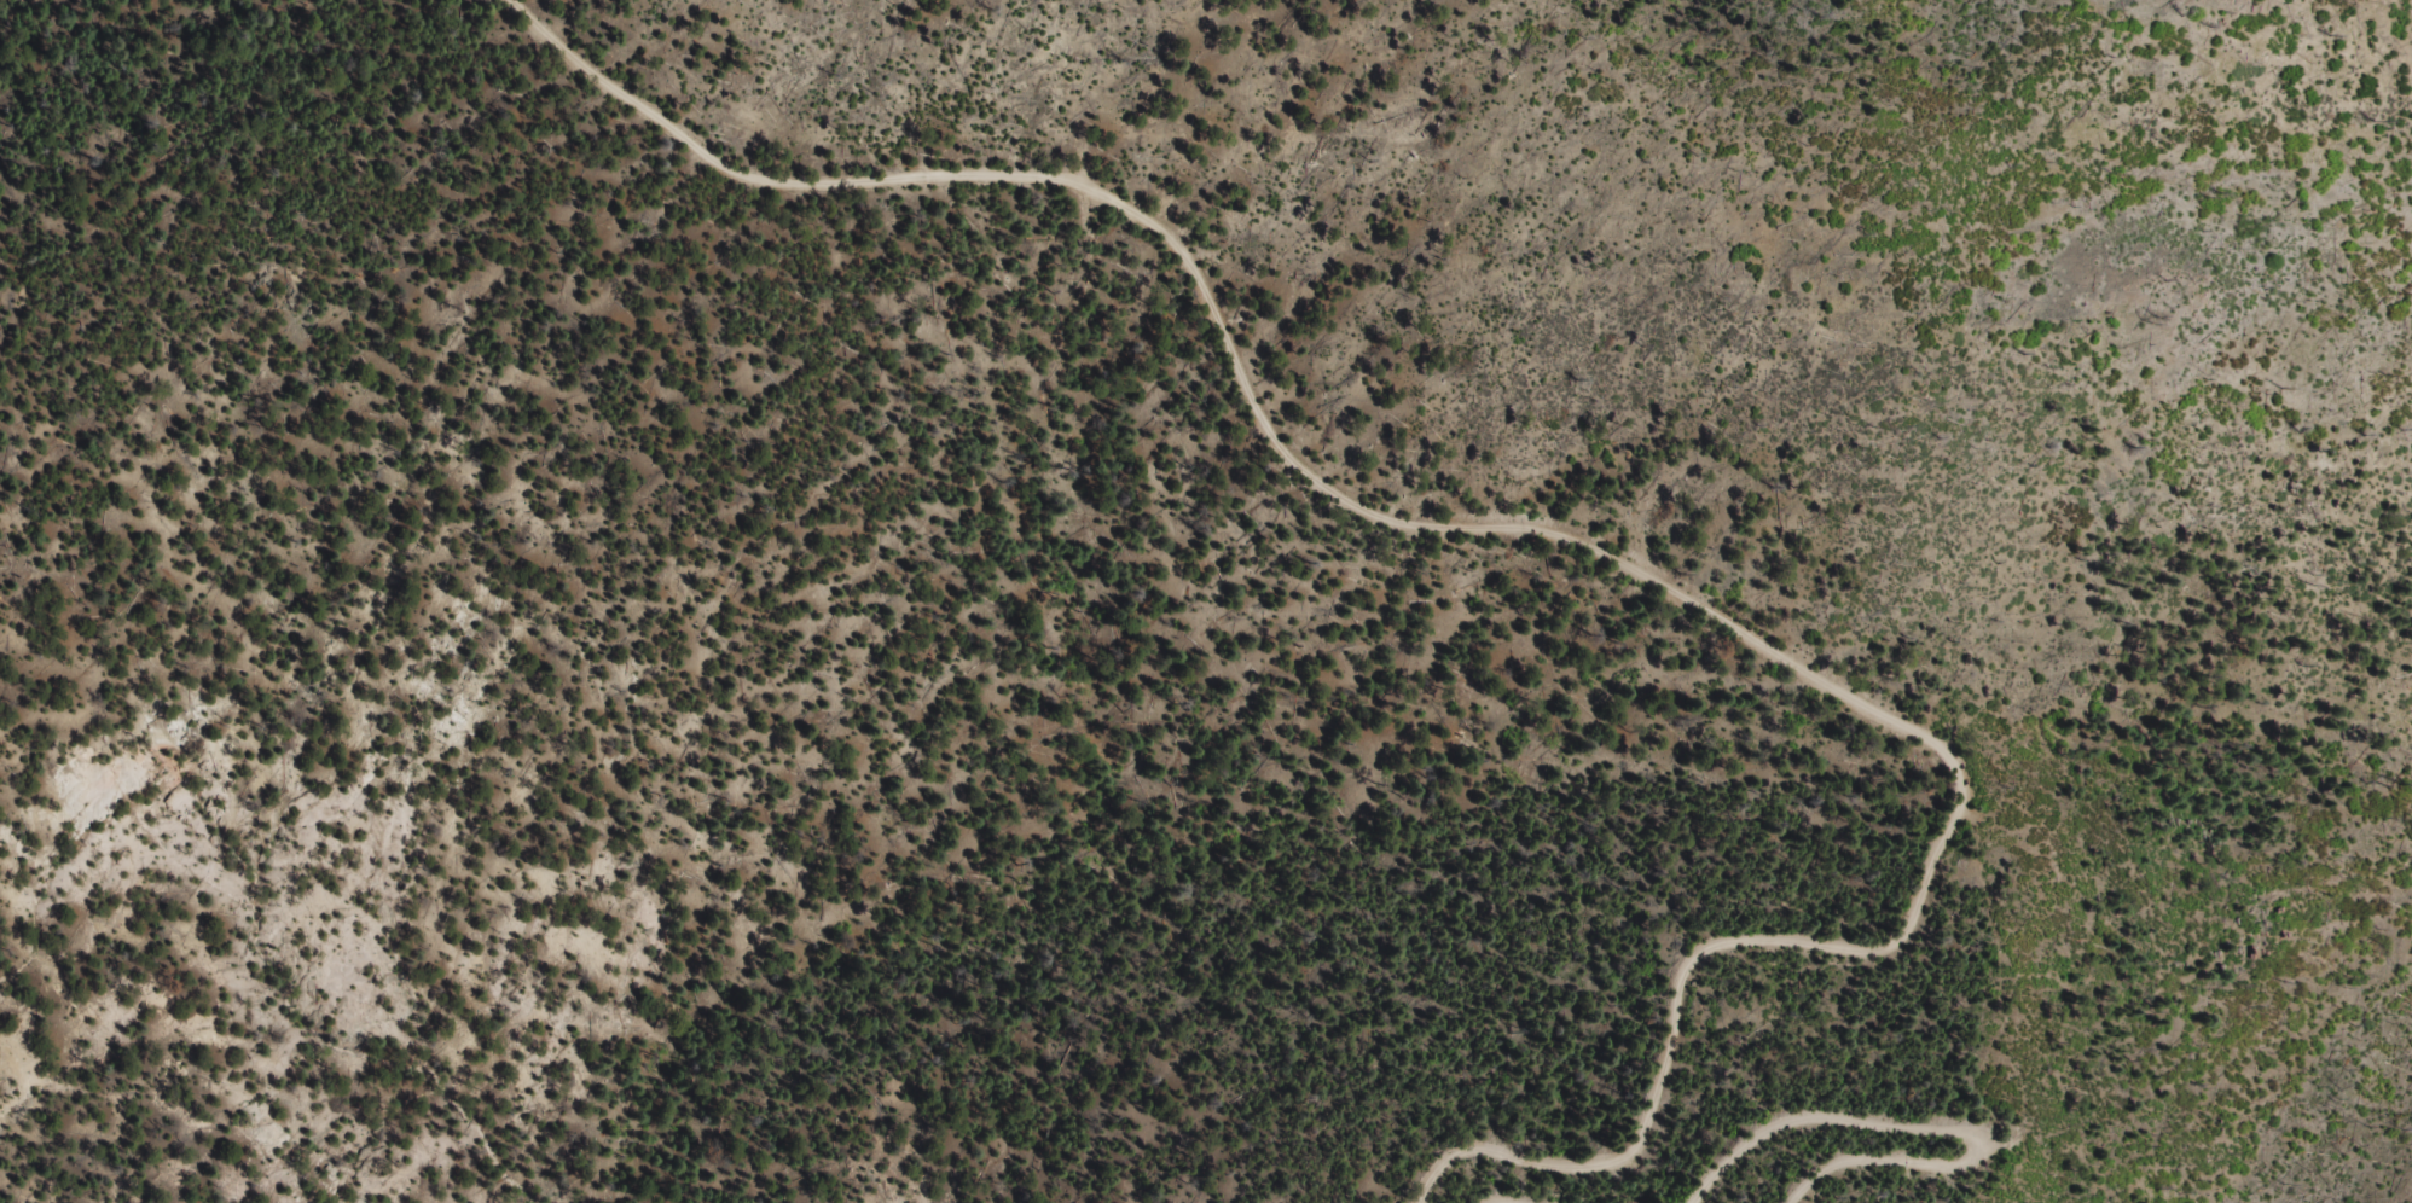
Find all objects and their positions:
road: (1566, 540)
road: (1927, 1132)

